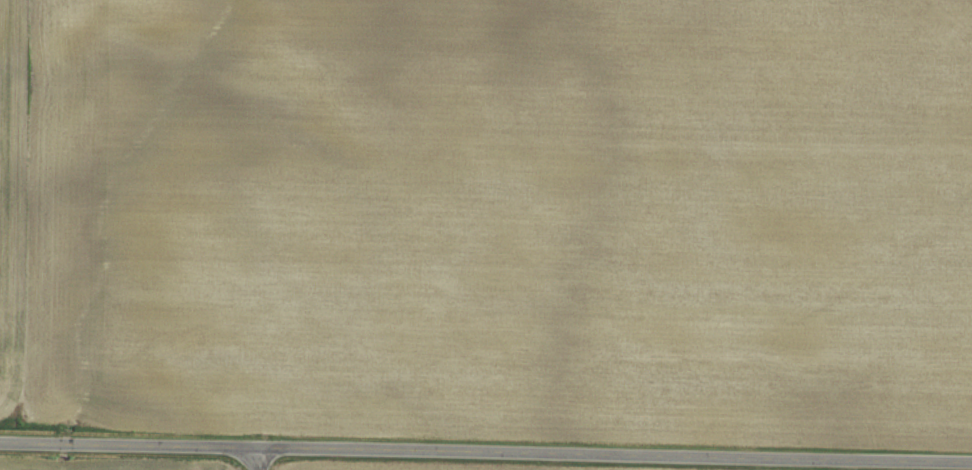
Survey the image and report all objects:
crop: (490, 216)
road: (486, 455)
road: (259, 460)

